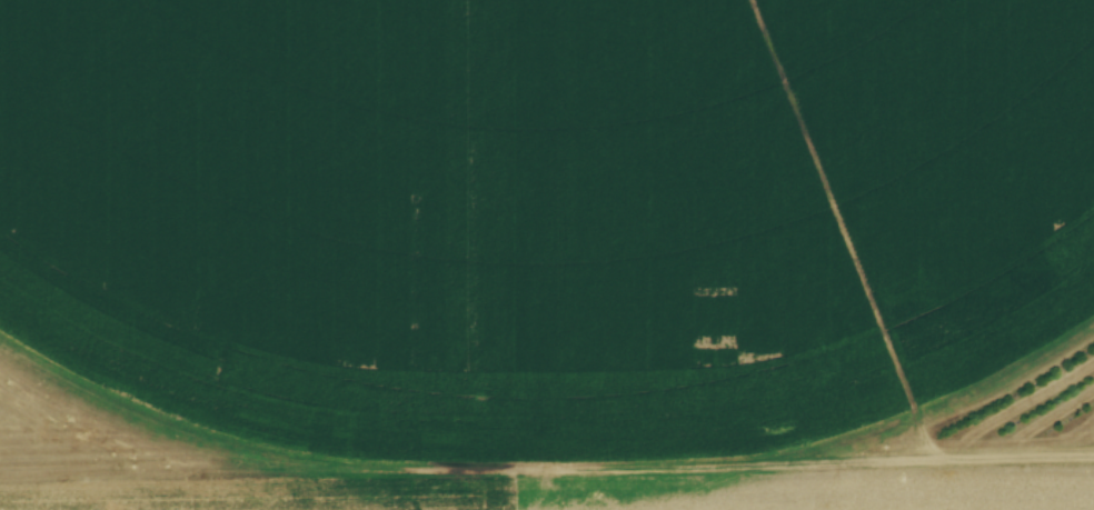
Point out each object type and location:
building: (838, 203)
building: (669, 217)
building: (694, 346)
road: (547, 471)

